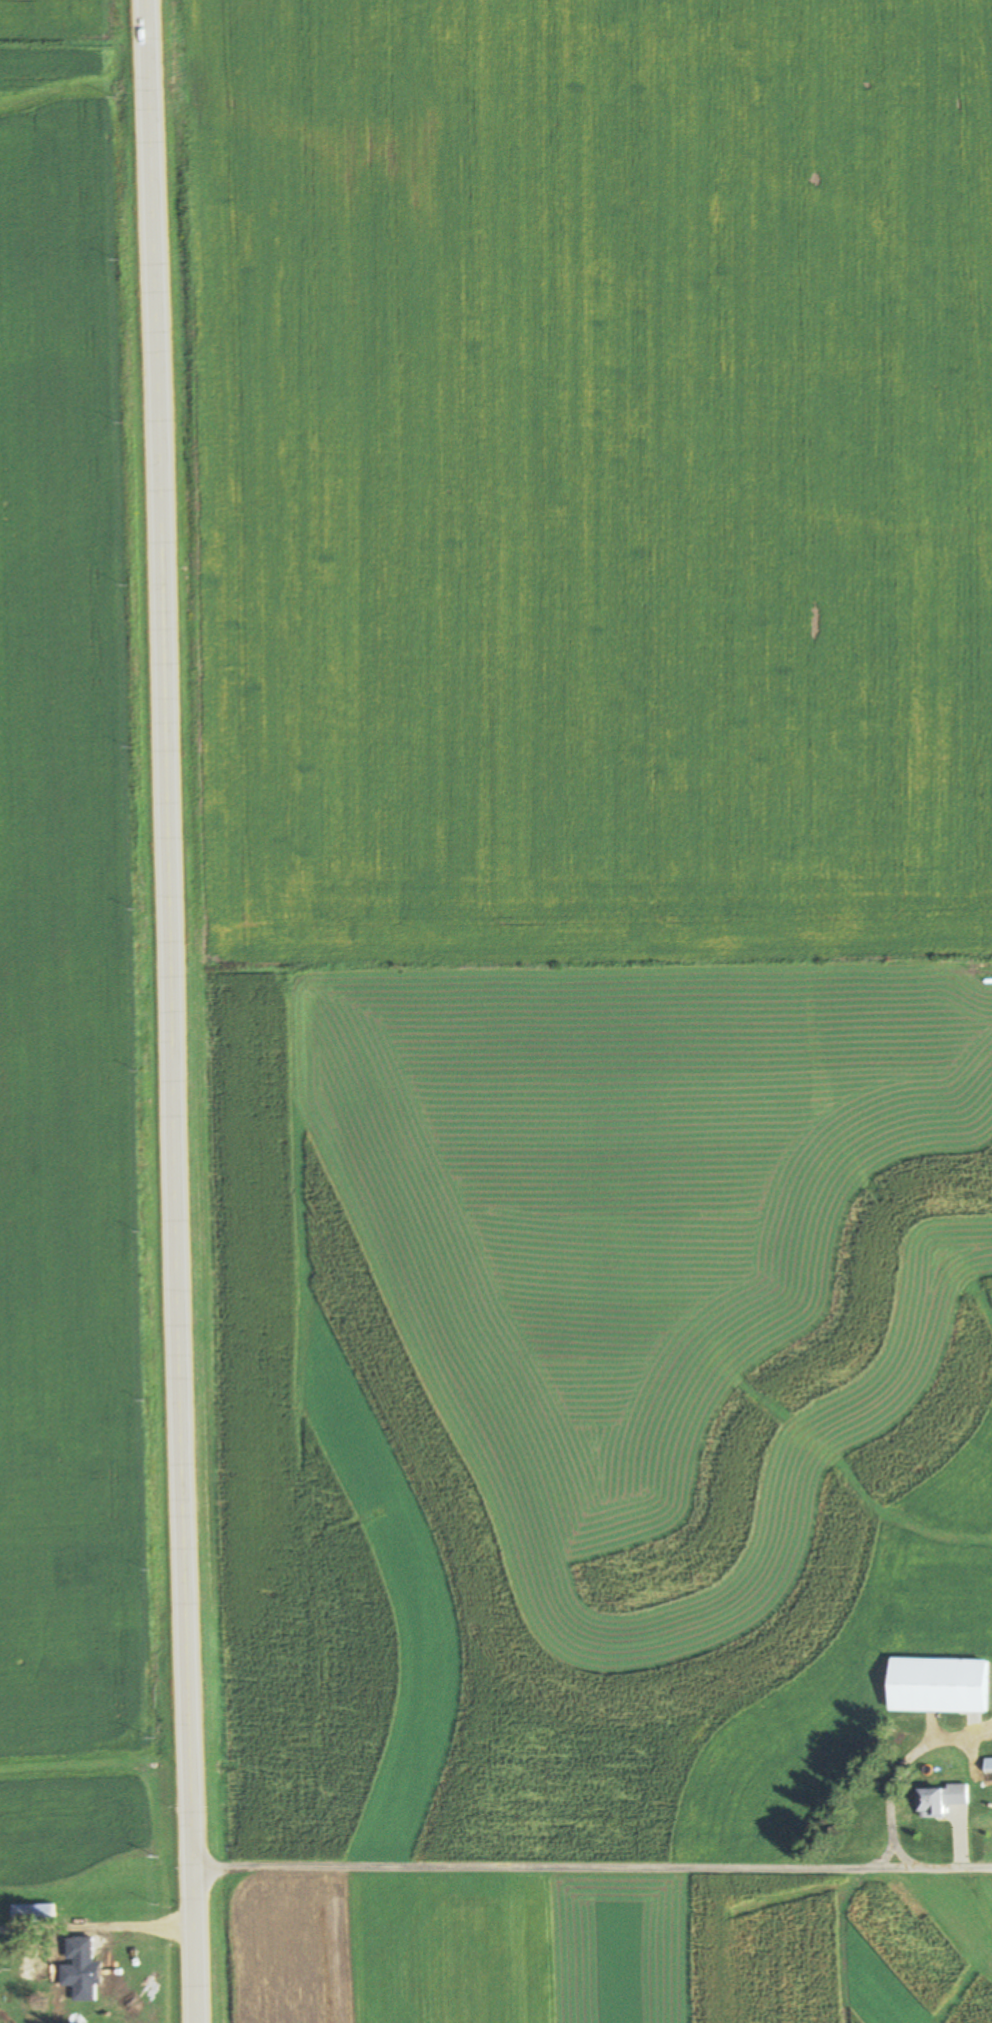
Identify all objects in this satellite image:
building: (154, 154)
road: (168, 1011)
building: (939, 1684)
building: (989, 1764)
building: (940, 1799)
road: (640, 1866)
road: (906, 1866)
road: (951, 1866)
building: (34, 1913)
road: (128, 1918)
building: (85, 1973)

